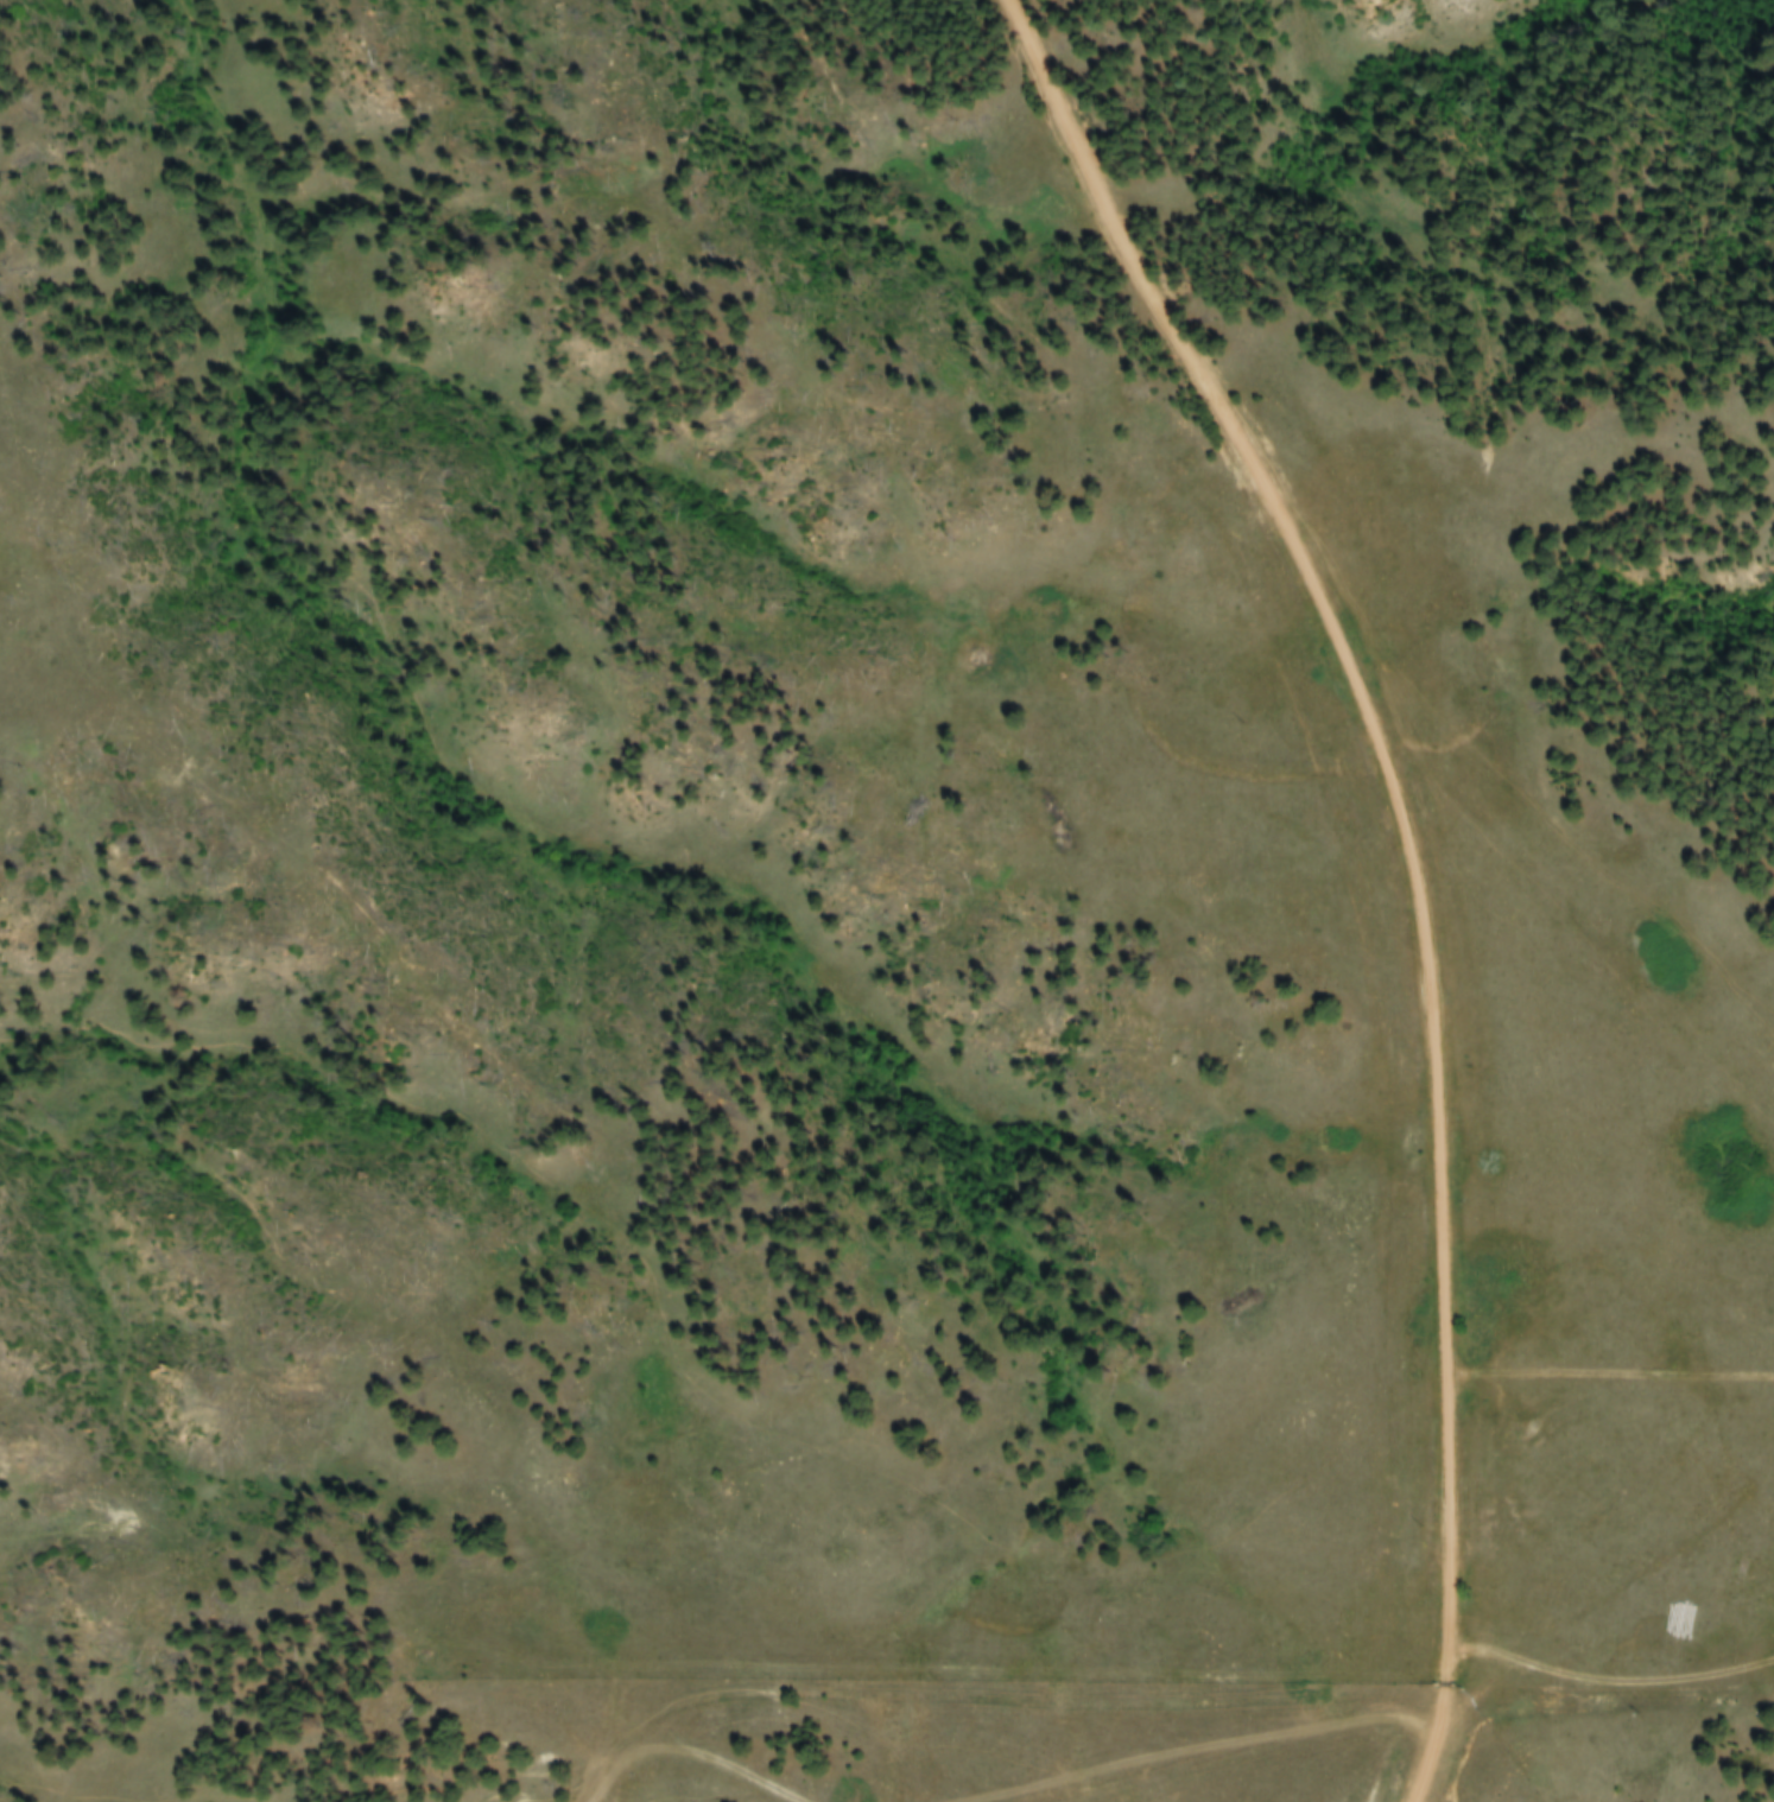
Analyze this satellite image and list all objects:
road: (1411, 857)
road: (1610, 1372)

